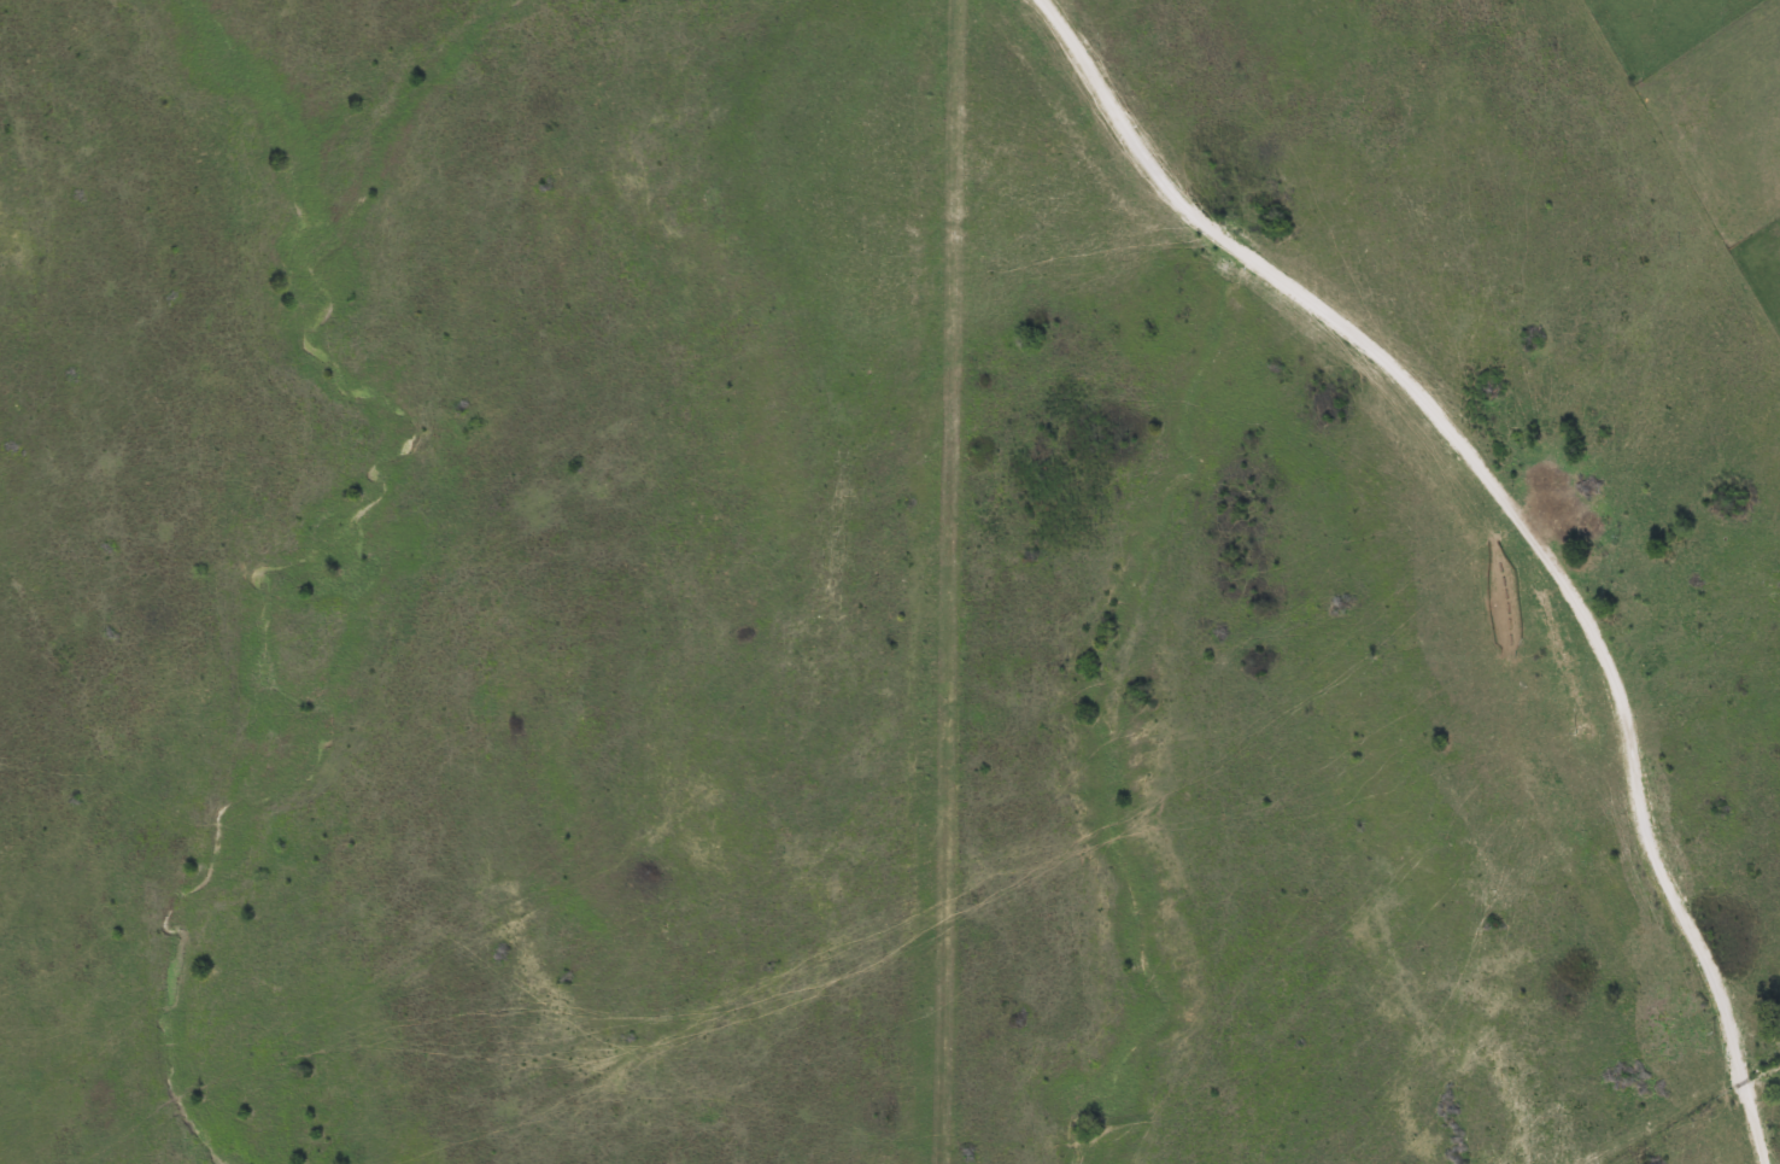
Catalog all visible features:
road: (1517, 510)

